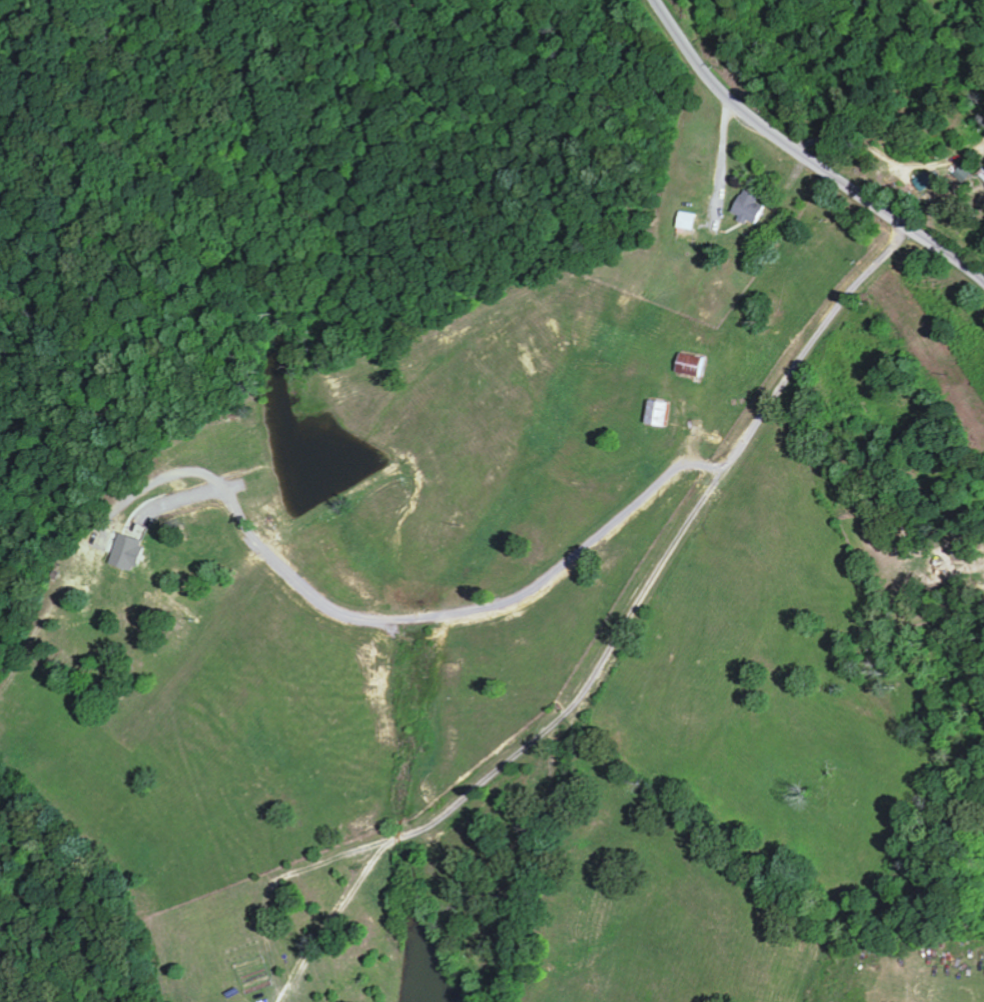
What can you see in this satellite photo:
road: (732, 154)
road: (805, 156)
building: (921, 181)
building: (746, 207)
building: (684, 221)
building: (654, 413)
building: (125, 553)
road: (656, 570)
road: (425, 617)

